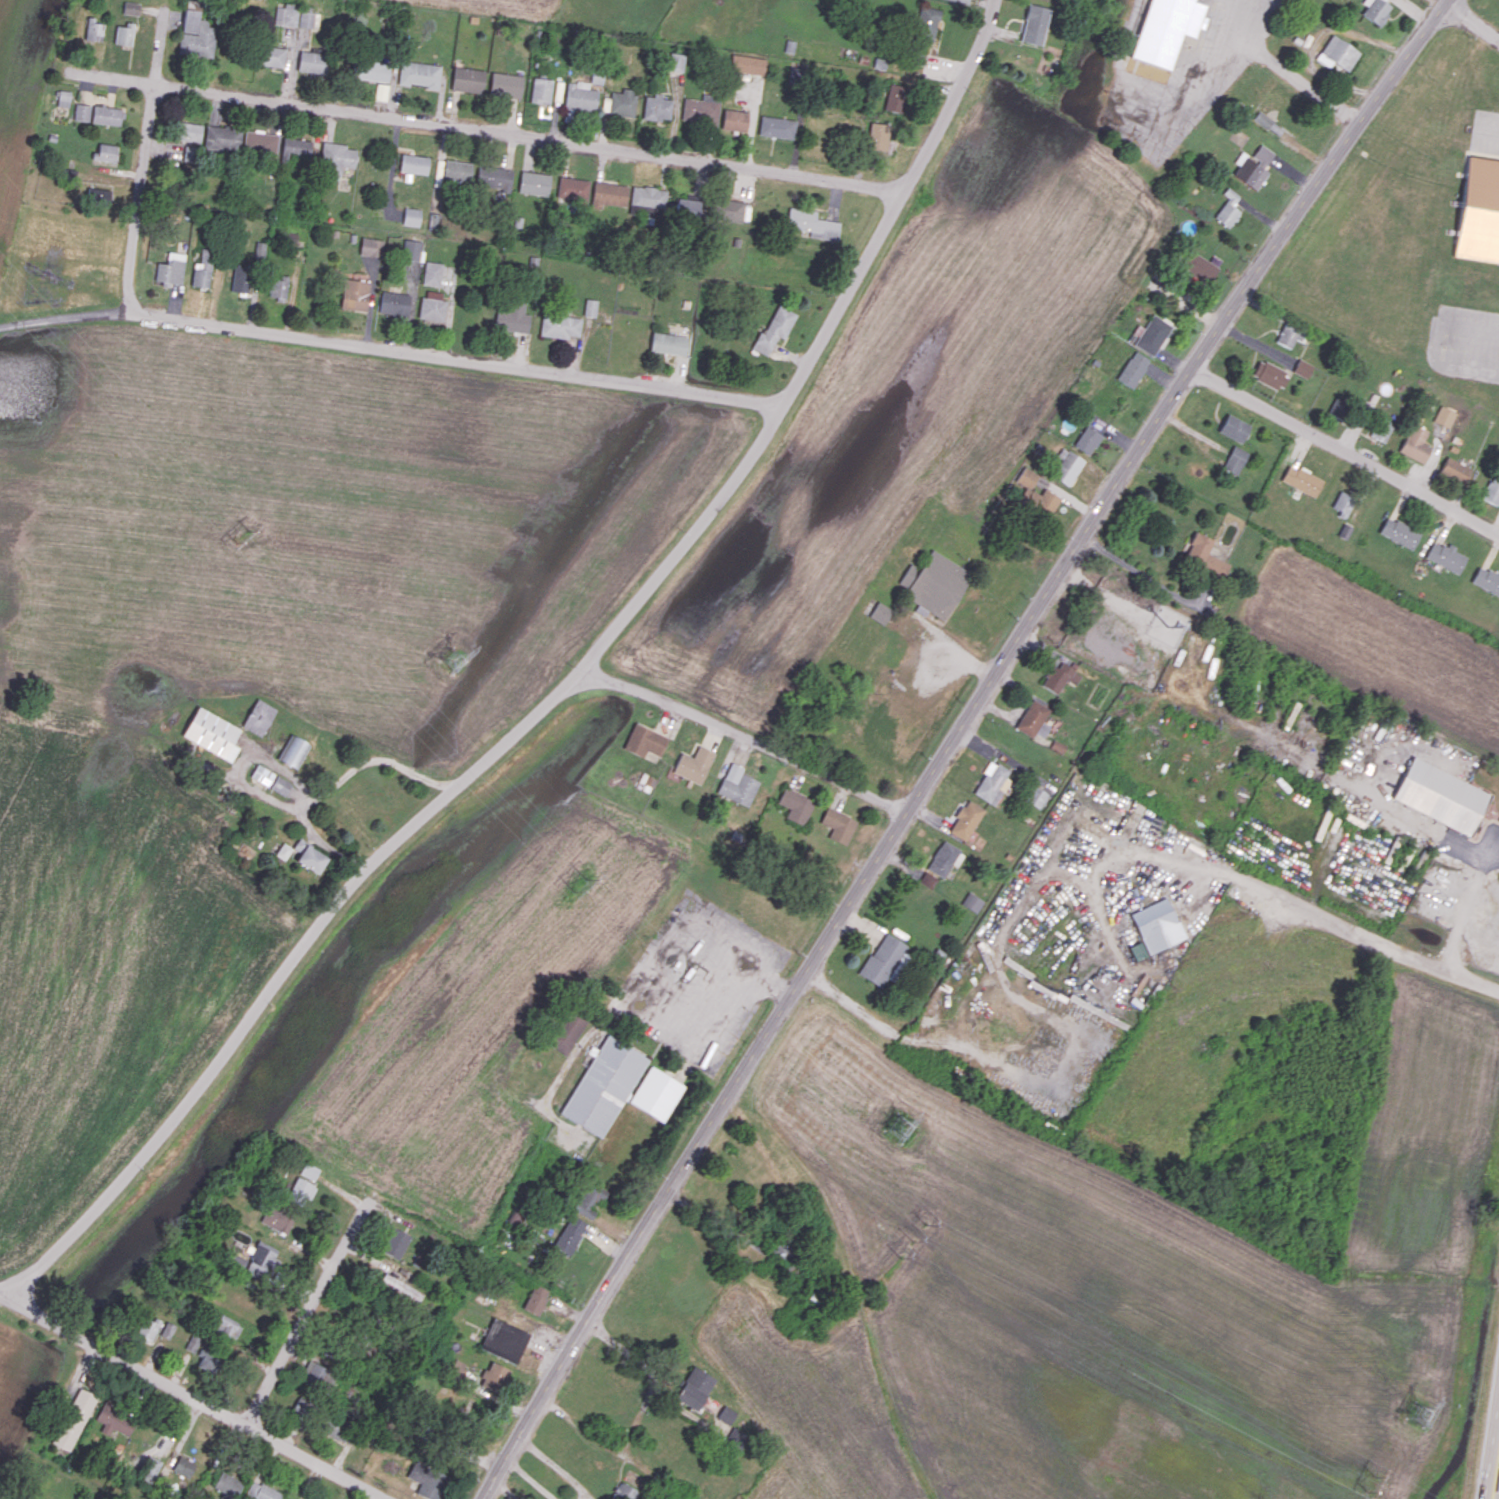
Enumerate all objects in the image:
crop: (502, 6)
road: (1472, 19)
building: (1166, 28)
road: (1319, 95)
crop: (21, 99)
road: (1494, 133)
road: (492, 135)
road: (142, 181)
building: (1478, 211)
road: (1184, 302)
road: (61, 319)
road: (175, 323)
road: (506, 367)
road: (1344, 449)
power tower: (240, 533)
road: (1144, 574)
power tower: (451, 659)
crop: (254, 662)
road: (560, 692)
road: (743, 741)
road: (950, 741)
road: (335, 783)
power tower: (575, 880)
road: (1372, 928)
road: (665, 993)
road: (919, 1039)
power tower: (899, 1128)
power tower: (912, 1241)
road: (303, 1324)
road: (198, 1399)
power tower: (1419, 1415)
road: (637, 1418)
road: (553, 1465)
road: (529, 1478)
power tower: (1371, 1483)
road: (1497, 1489)

